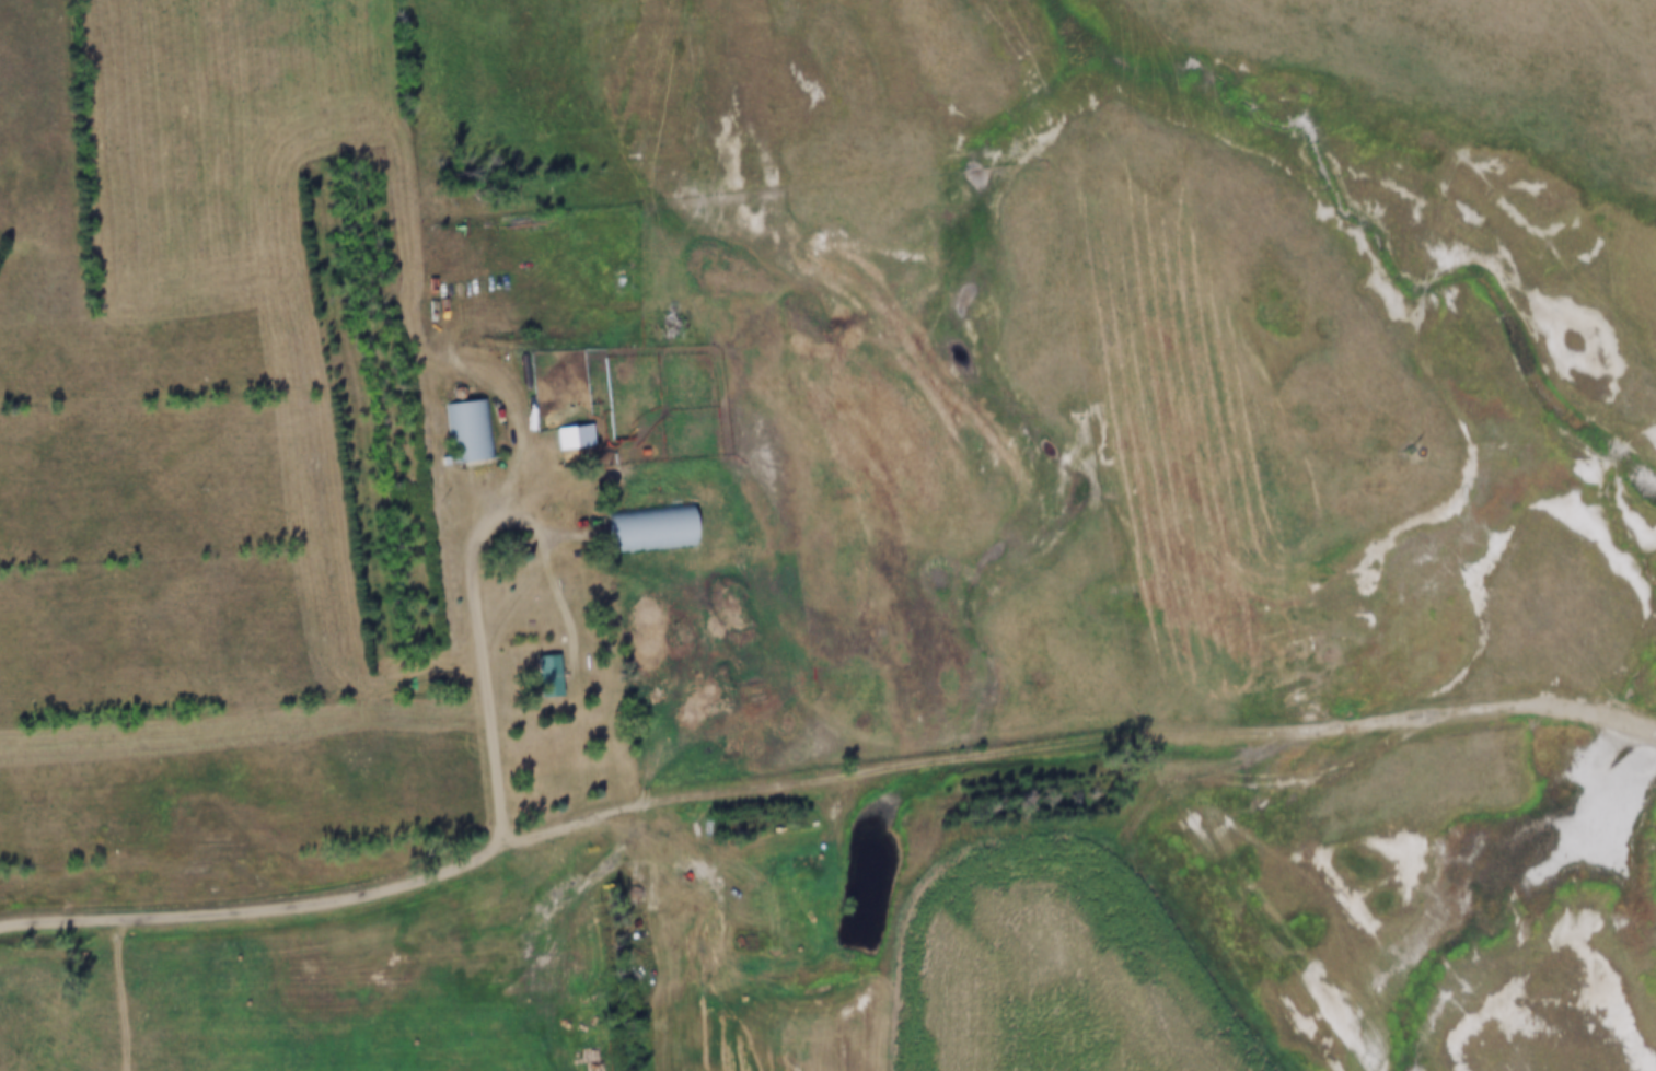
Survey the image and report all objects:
road: (1621, 50)
building: (470, 428)
building: (572, 435)
road: (507, 492)
building: (513, 547)
building: (544, 673)
road: (1079, 743)
road: (258, 912)

